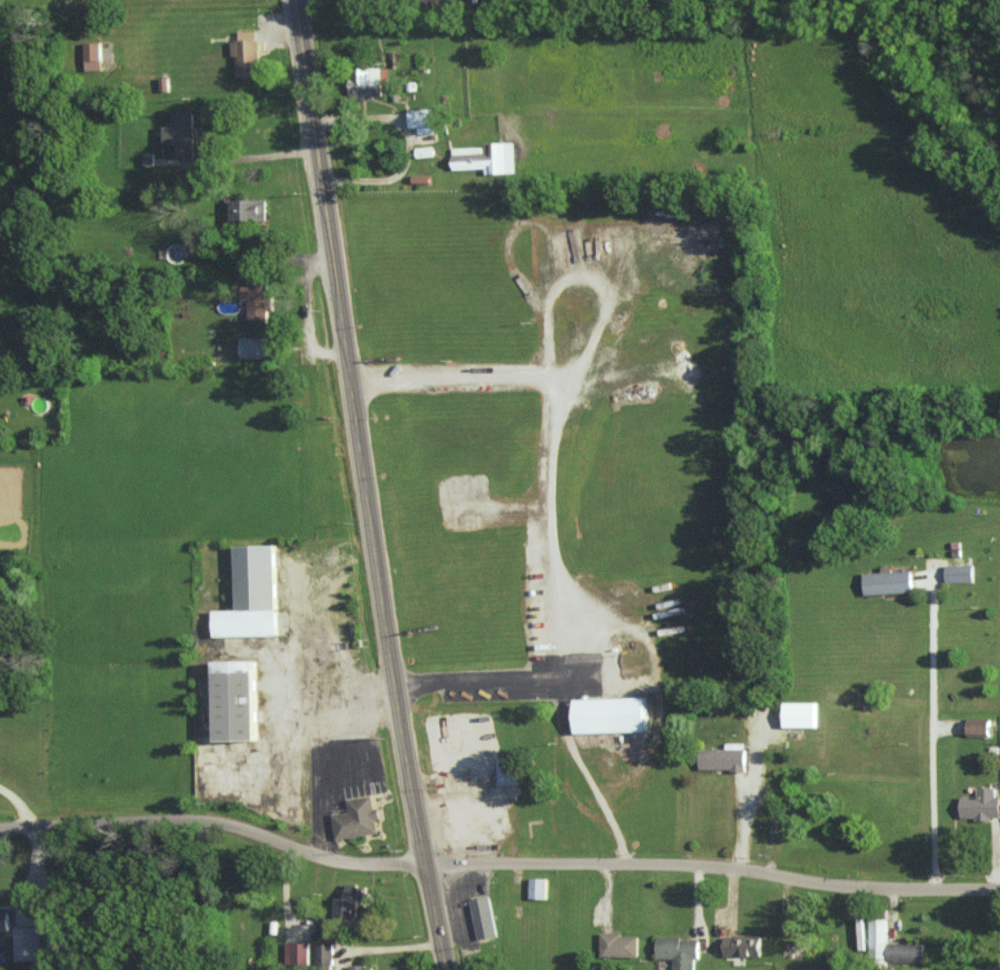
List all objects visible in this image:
building: (245, 54)
building: (91, 55)
road: (347, 74)
building: (365, 83)
building: (420, 118)
building: (180, 135)
building: (484, 158)
building: (246, 209)
building: (257, 301)
road: (340, 307)
building: (257, 346)
road: (550, 508)
building: (958, 573)
building: (886, 581)
building: (249, 594)
building: (233, 699)
building: (609, 714)
building: (799, 714)
building: (977, 727)
road: (934, 728)
building: (722, 757)
building: (506, 770)
road: (413, 793)
building: (980, 804)
road: (20, 805)
road: (748, 809)
building: (355, 818)
road: (214, 821)
road: (712, 870)
building: (537, 888)
building: (349, 900)
building: (482, 917)
building: (3, 922)
building: (322, 925)
building: (26, 943)
building: (618, 944)
building: (741, 945)
building: (890, 945)
building: (678, 951)
building: (296, 952)
building: (324, 954)
building: (840, 965)
building: (360, 967)

